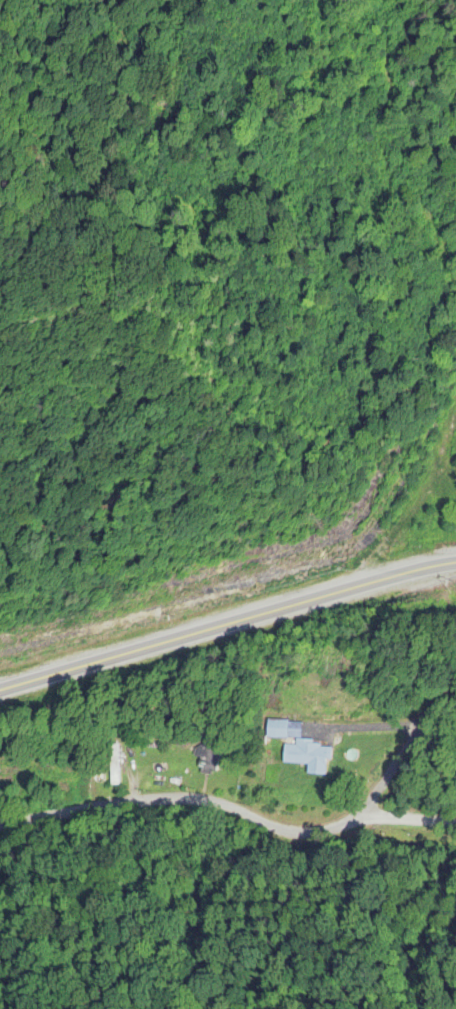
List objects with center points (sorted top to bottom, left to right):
road: (226, 617)
building: (298, 748)
building: (207, 762)
building: (113, 765)
road: (228, 784)

